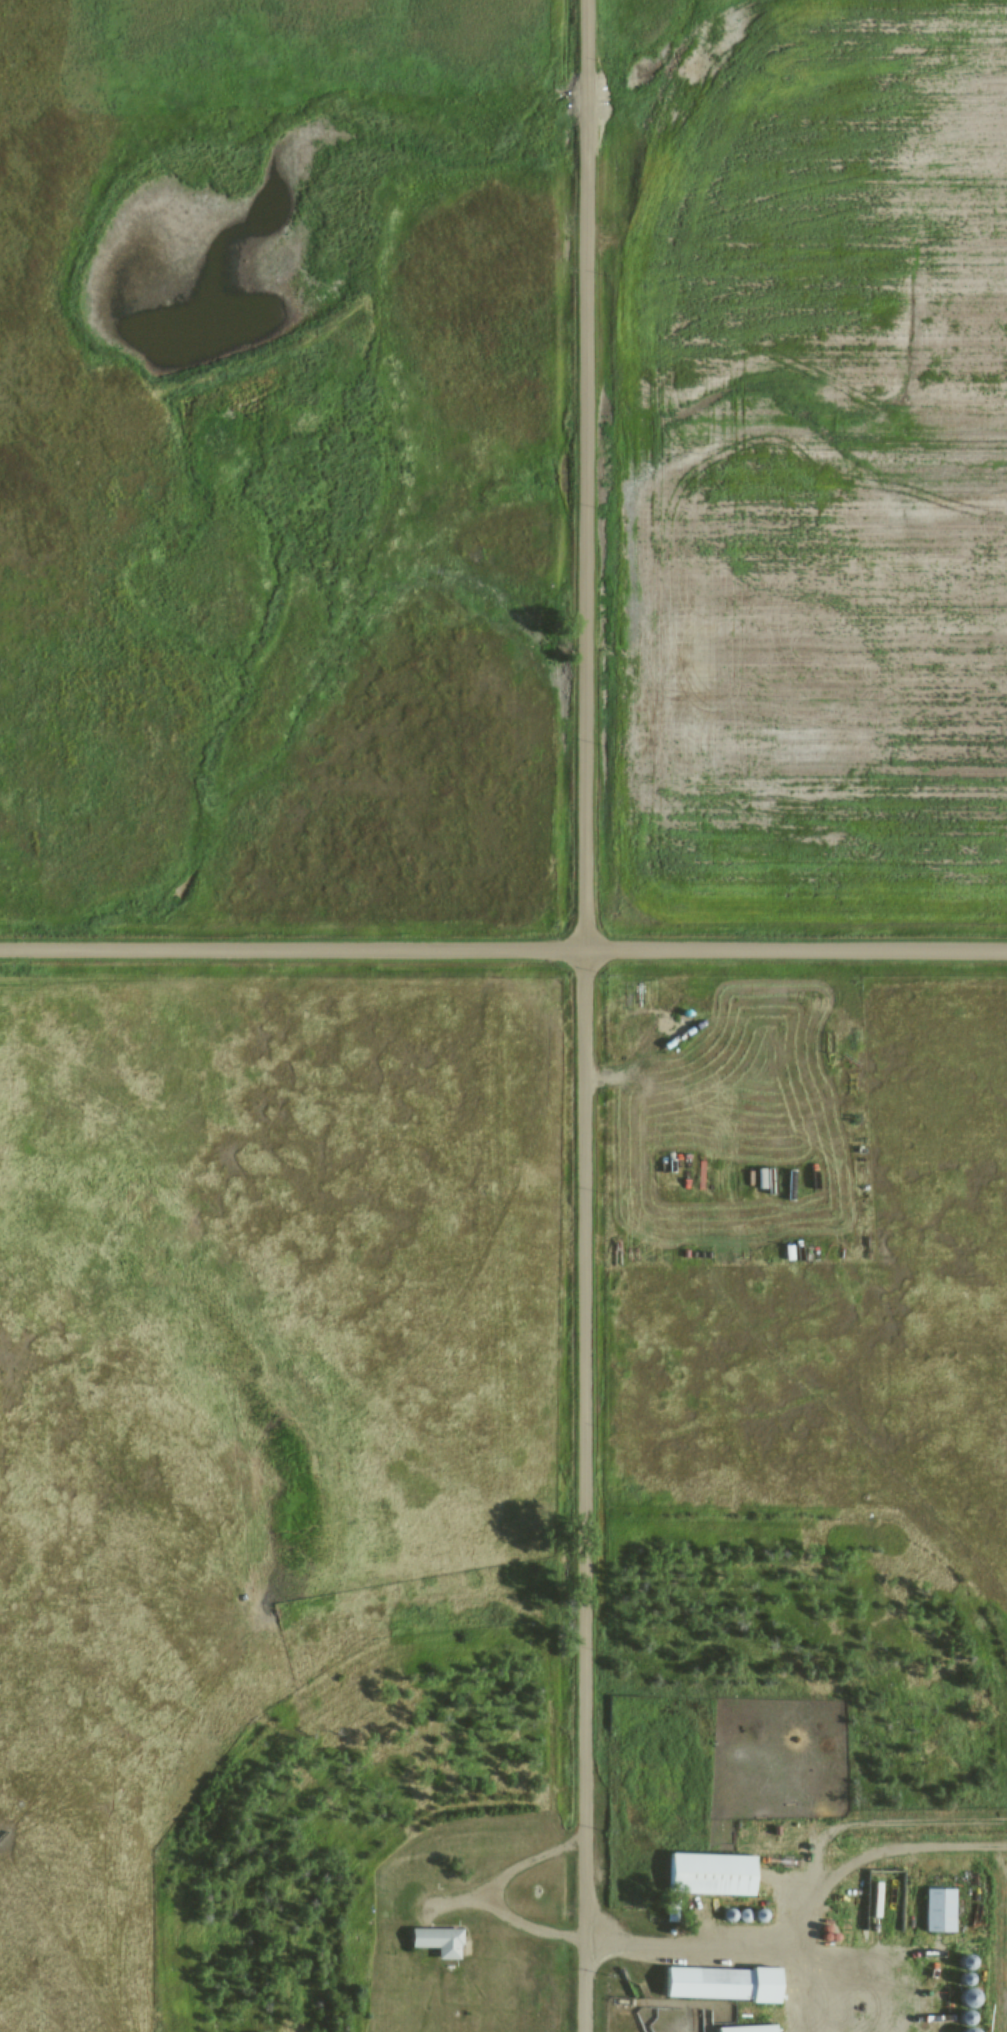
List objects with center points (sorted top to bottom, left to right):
road: (503, 950)
road: (587, 1015)
building: (708, 1874)
building: (938, 1910)
building: (436, 1942)
building: (718, 1984)
building: (965, 1998)
building: (745, 2029)
building: (963, 2030)

